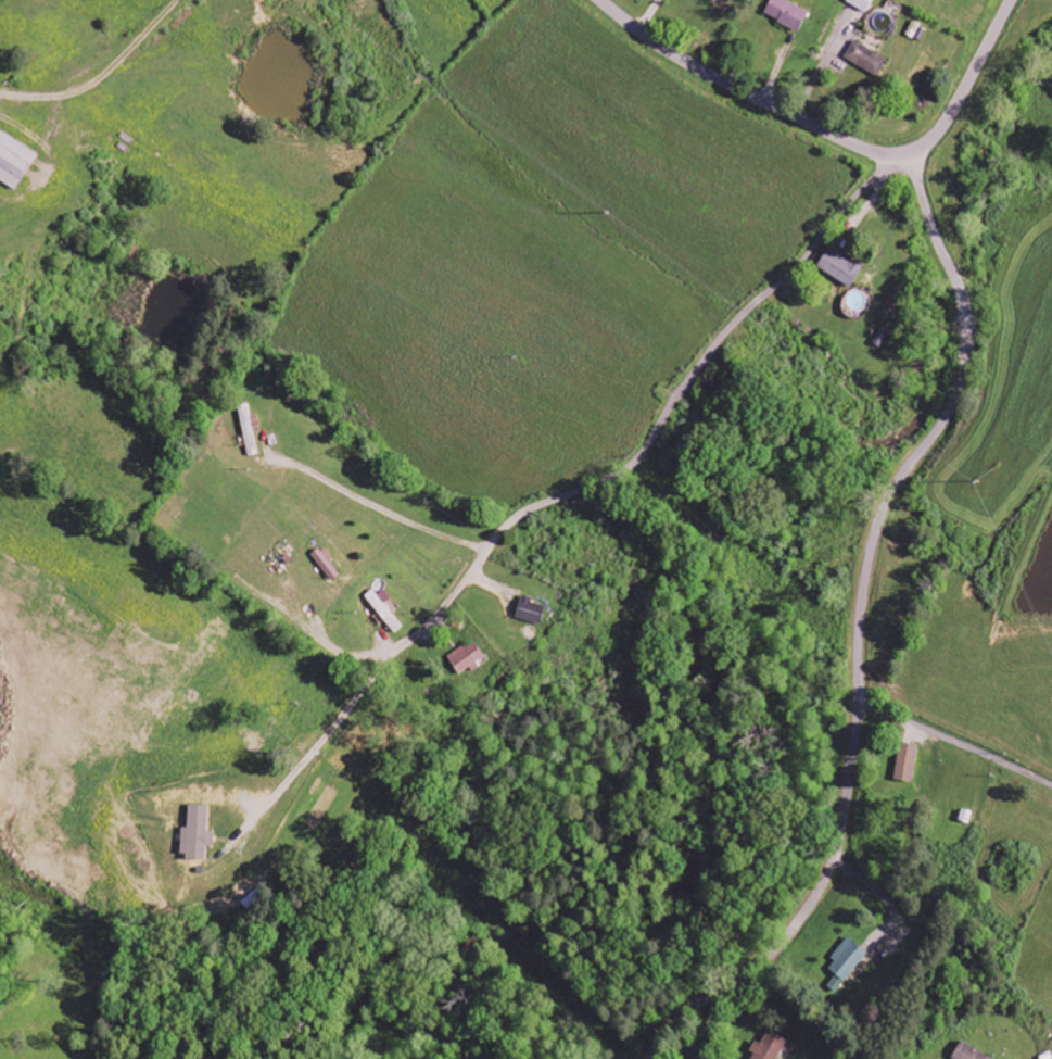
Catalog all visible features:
building: (861, 4)
building: (786, 14)
building: (925, 56)
building: (866, 59)
road: (832, 136)
building: (14, 162)
building: (840, 267)
building: (711, 386)
road: (659, 429)
building: (246, 431)
road: (385, 506)
building: (325, 563)
building: (382, 608)
building: (530, 610)
road: (867, 628)
building: (466, 658)
road: (960, 744)
building: (905, 762)
building: (199, 833)
building: (845, 960)
building: (768, 1047)
building: (969, 1054)

